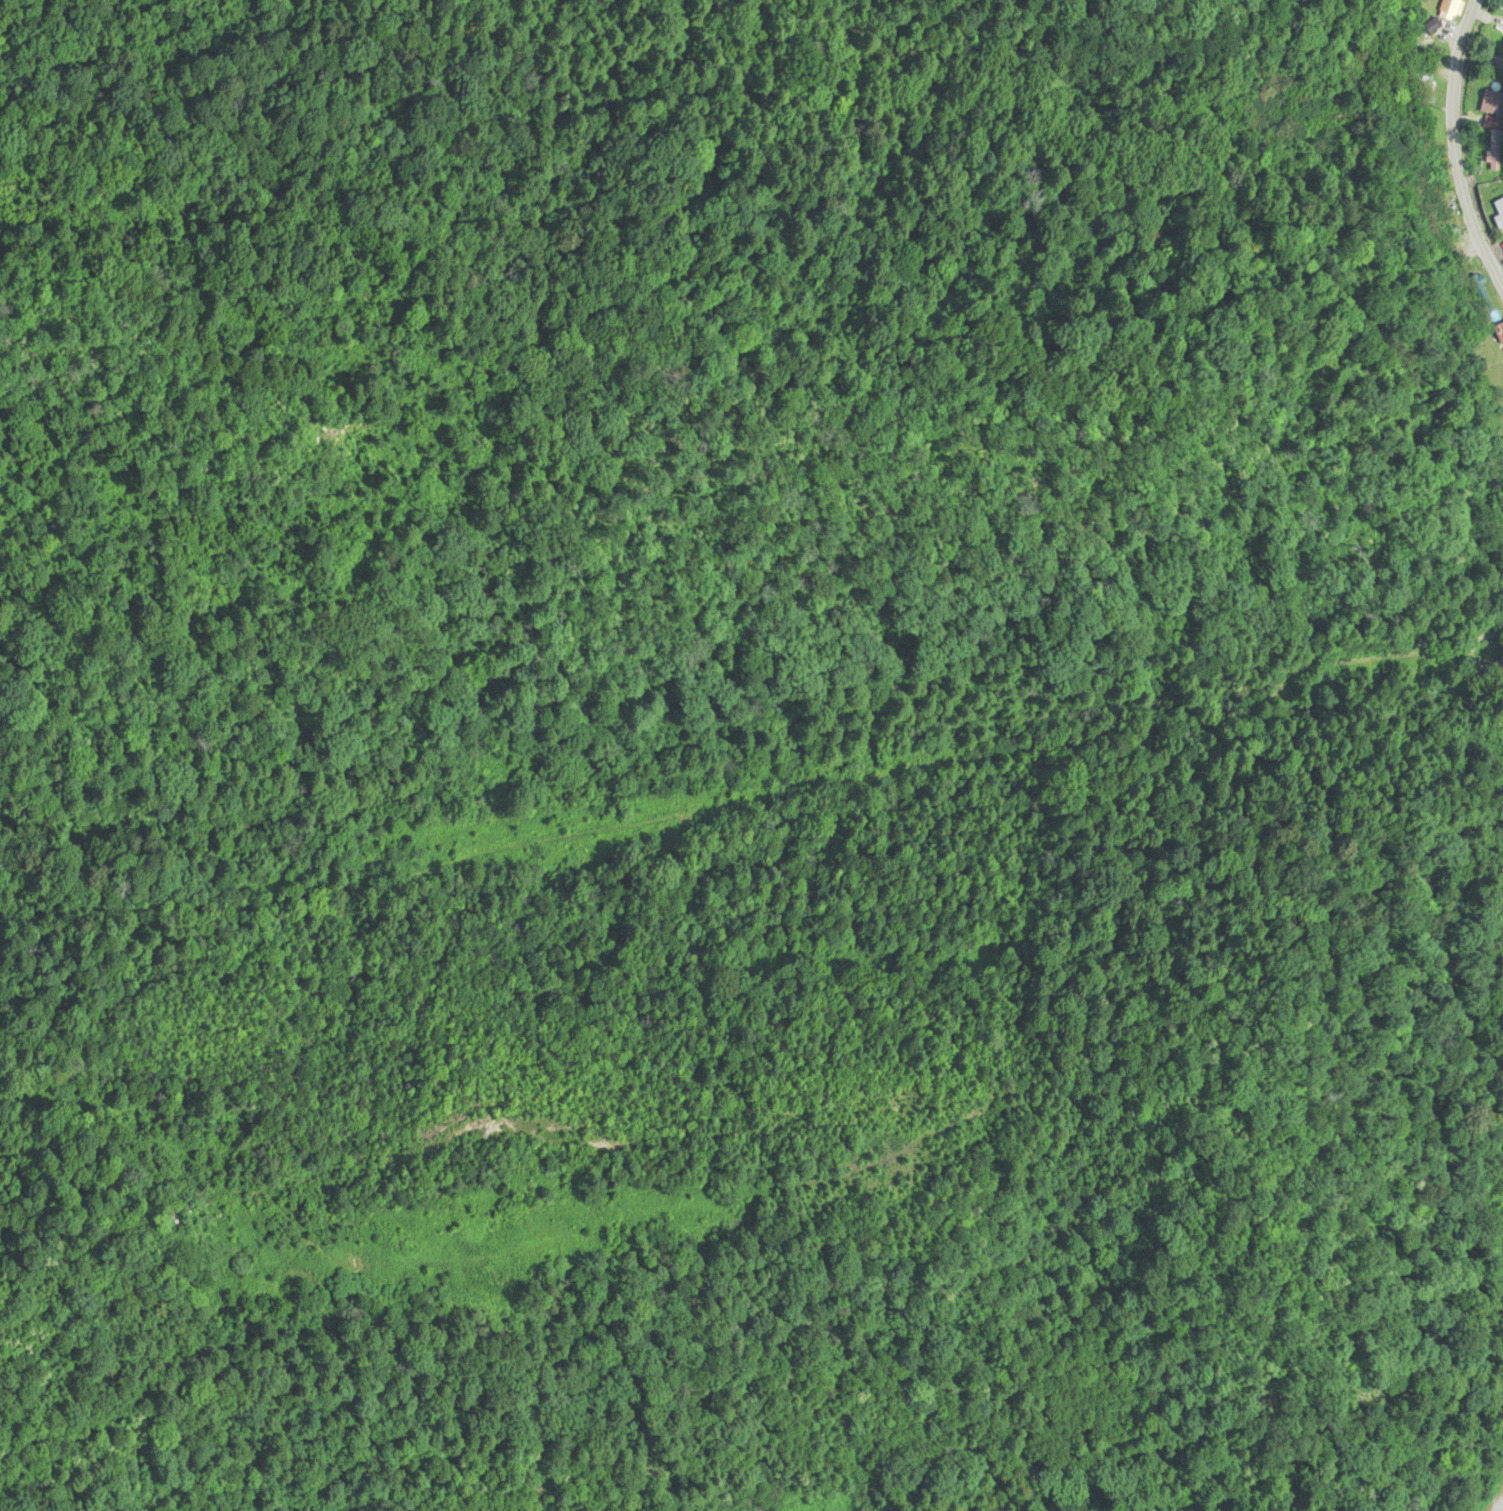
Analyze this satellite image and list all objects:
building: (1449, 8)
building: (1492, 104)
building: (1282, 106)
road: (1454, 144)
building: (1436, 182)
building: (1496, 214)
building: (1478, 293)
road: (1261, 309)
building: (1497, 332)

